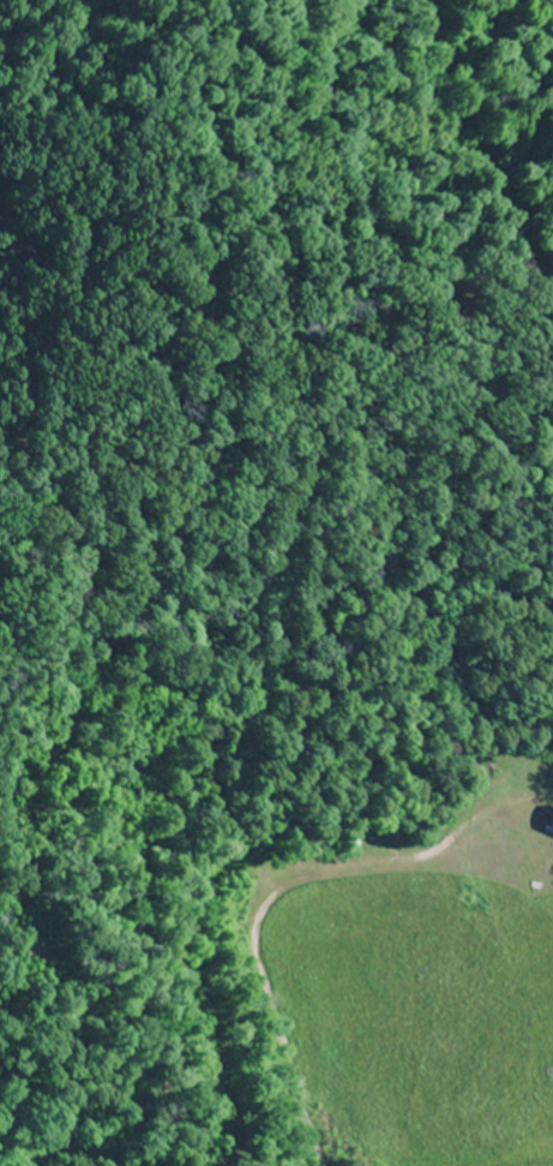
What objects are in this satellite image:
building: (548, 825)

